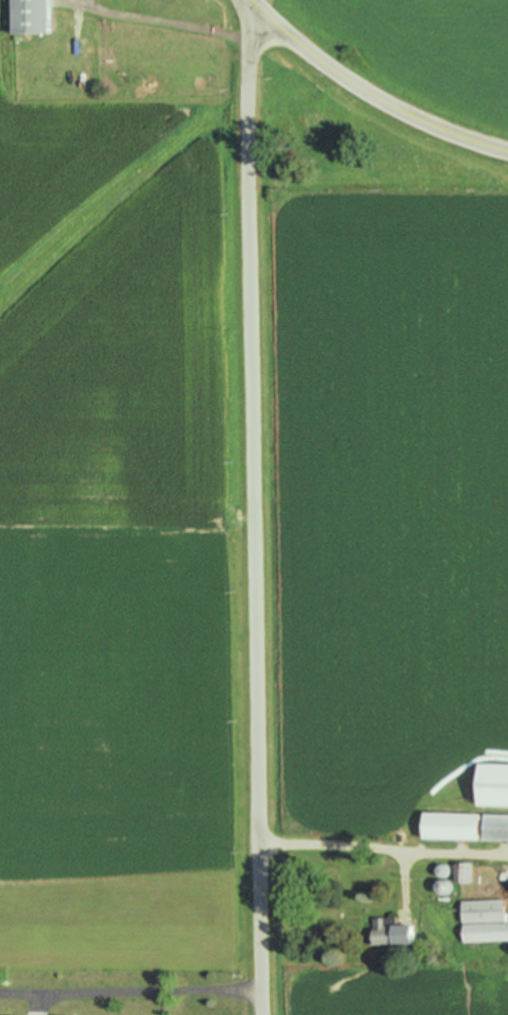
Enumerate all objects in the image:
building: (25, 16)
road: (366, 95)
road: (253, 511)
building: (445, 824)
building: (492, 825)
building: (507, 888)
building: (480, 920)
building: (386, 930)
road: (130, 997)

